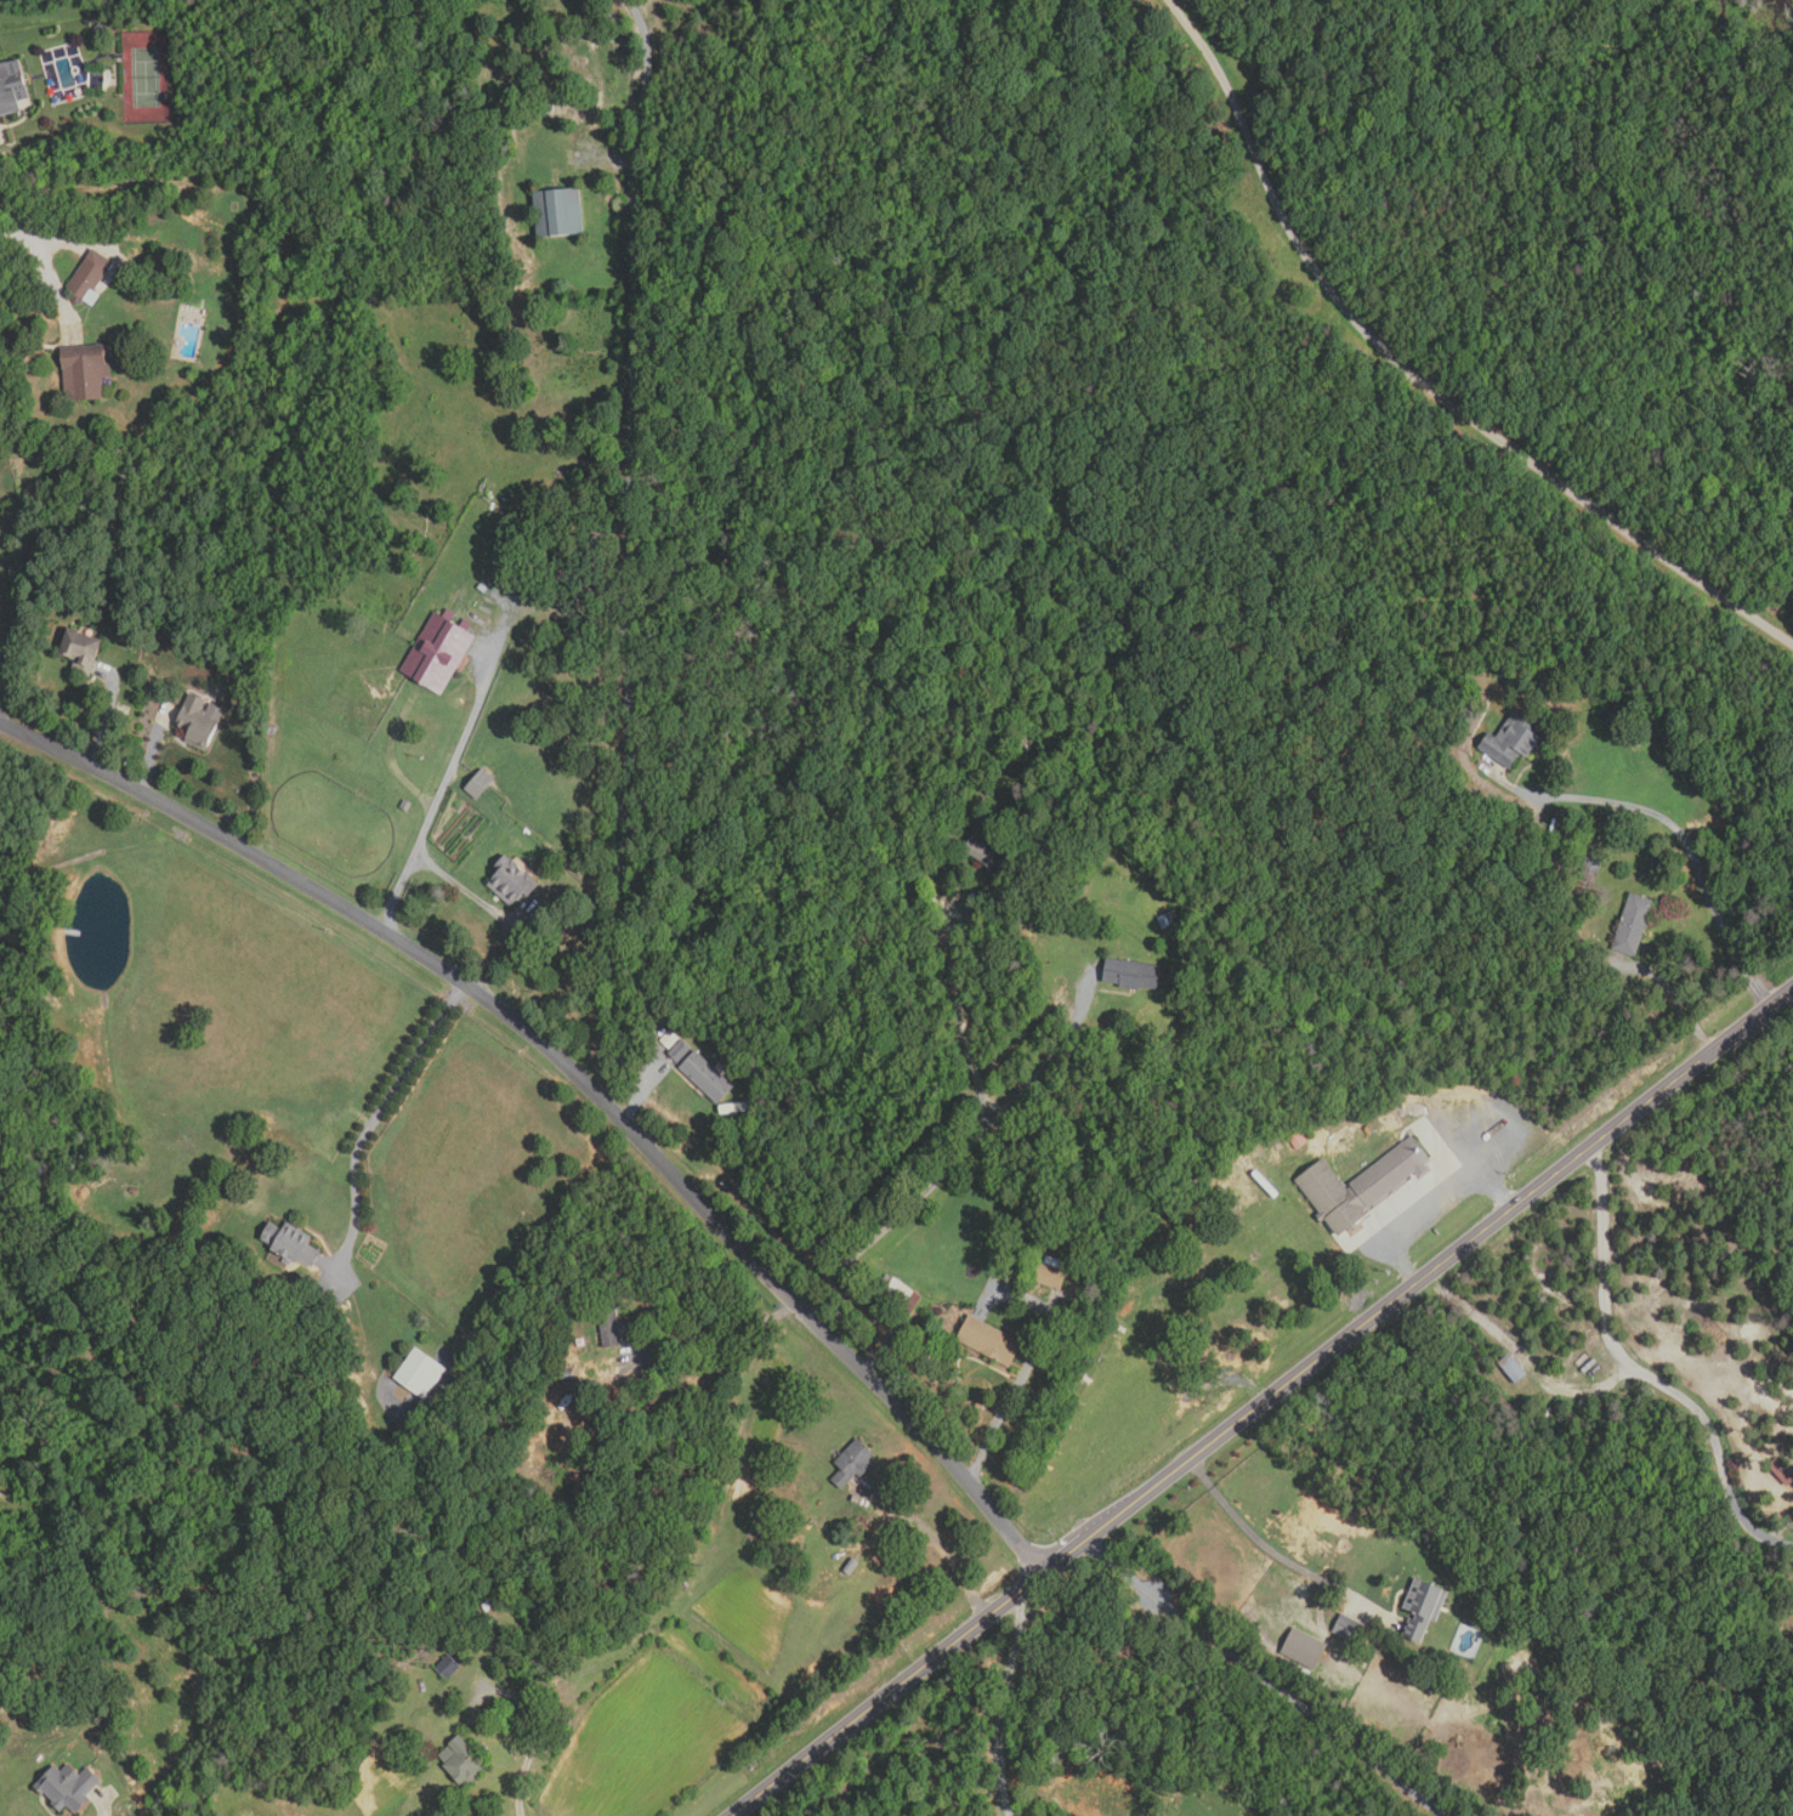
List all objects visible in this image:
building: (12, 85)
building: (560, 211)
road: (34, 240)
building: (90, 277)
building: (85, 373)
road: (1417, 381)
road: (628, 552)
building: (81, 649)
building: (437, 654)
road: (107, 715)
building: (200, 721)
building: (1513, 740)
road: (152, 748)
building: (482, 784)
road: (438, 798)
building: (407, 805)
building: (1562, 817)
road: (1678, 828)
building: (989, 853)
building: (1556, 859)
building: (1593, 864)
building: (512, 881)
road: (467, 891)
building: (1169, 920)
building: (1634, 925)
building: (1133, 975)
road: (1681, 1003)
road: (964, 1010)
building: (670, 1038)
building: (681, 1050)
road: (1051, 1060)
road: (578, 1076)
building: (709, 1078)
road: (642, 1090)
road: (375, 1118)
building: (1275, 1140)
building: (1298, 1140)
building: (1255, 1171)
building: (1362, 1186)
road: (1430, 1204)
road: (897, 1219)
building: (291, 1244)
building: (1052, 1273)
building: (900, 1294)
building: (613, 1328)
road: (715, 1337)
building: (989, 1341)
road: (884, 1346)
road: (1026, 1367)
building: (420, 1374)
building: (566, 1375)
road: (1644, 1377)
road: (1263, 1404)
park: (1108, 1432)
building: (853, 1464)
building: (1780, 1471)
building: (1792, 1515)
road: (938, 1545)
road: (1276, 1554)
building: (781, 1562)
building: (851, 1567)
building: (489, 1605)
building: (1424, 1610)
building: (1350, 1629)
building: (1305, 1650)
building: (448, 1668)
road: (1000, 1703)
road: (537, 1740)
building: (463, 1763)
building: (69, 1788)
road: (104, 1804)

